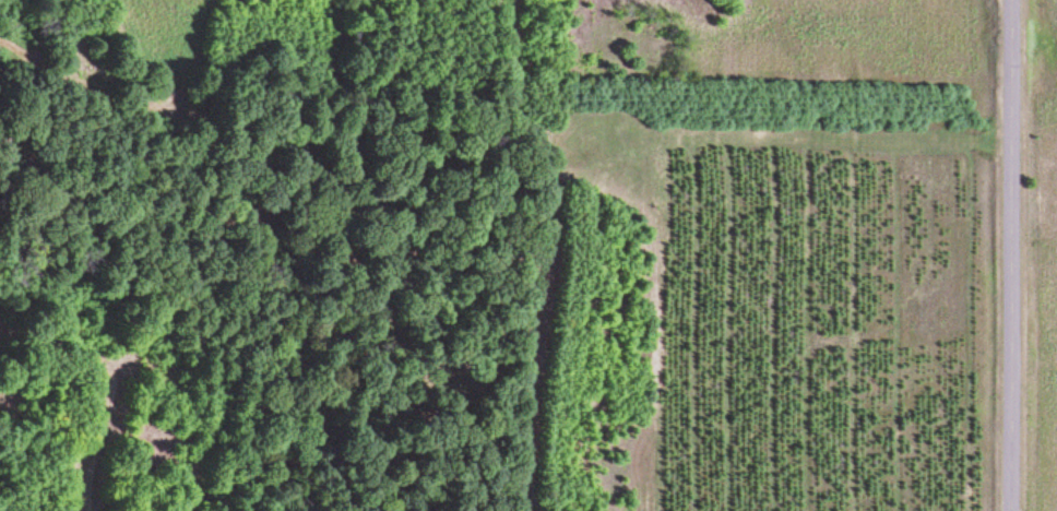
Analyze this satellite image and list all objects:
road: (1010, 255)

